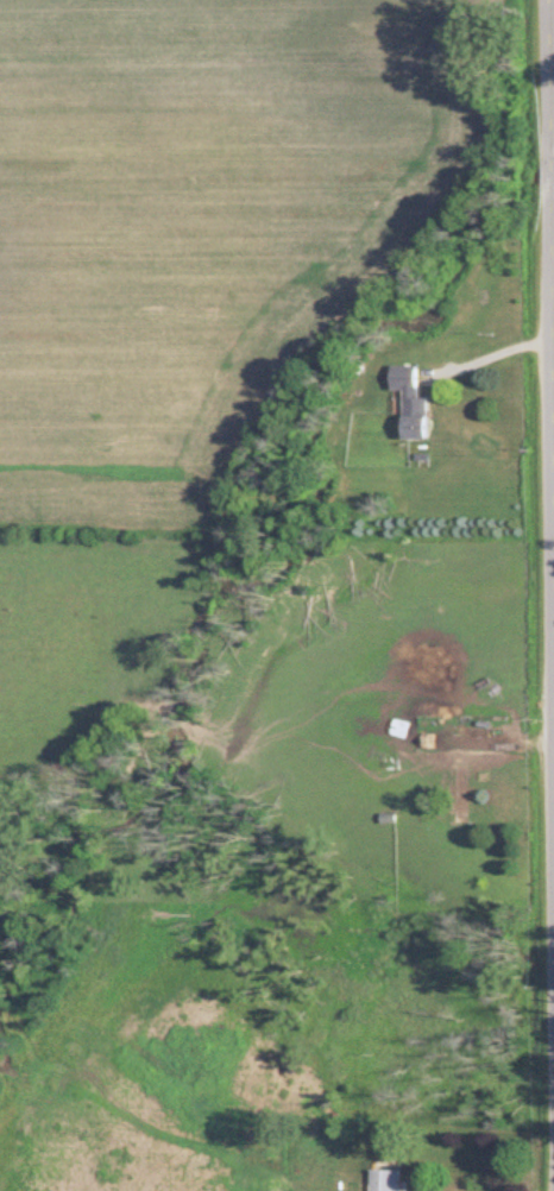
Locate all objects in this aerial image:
road: (553, 37)
road: (487, 341)
building: (410, 403)
building: (464, 793)
building: (386, 1180)

